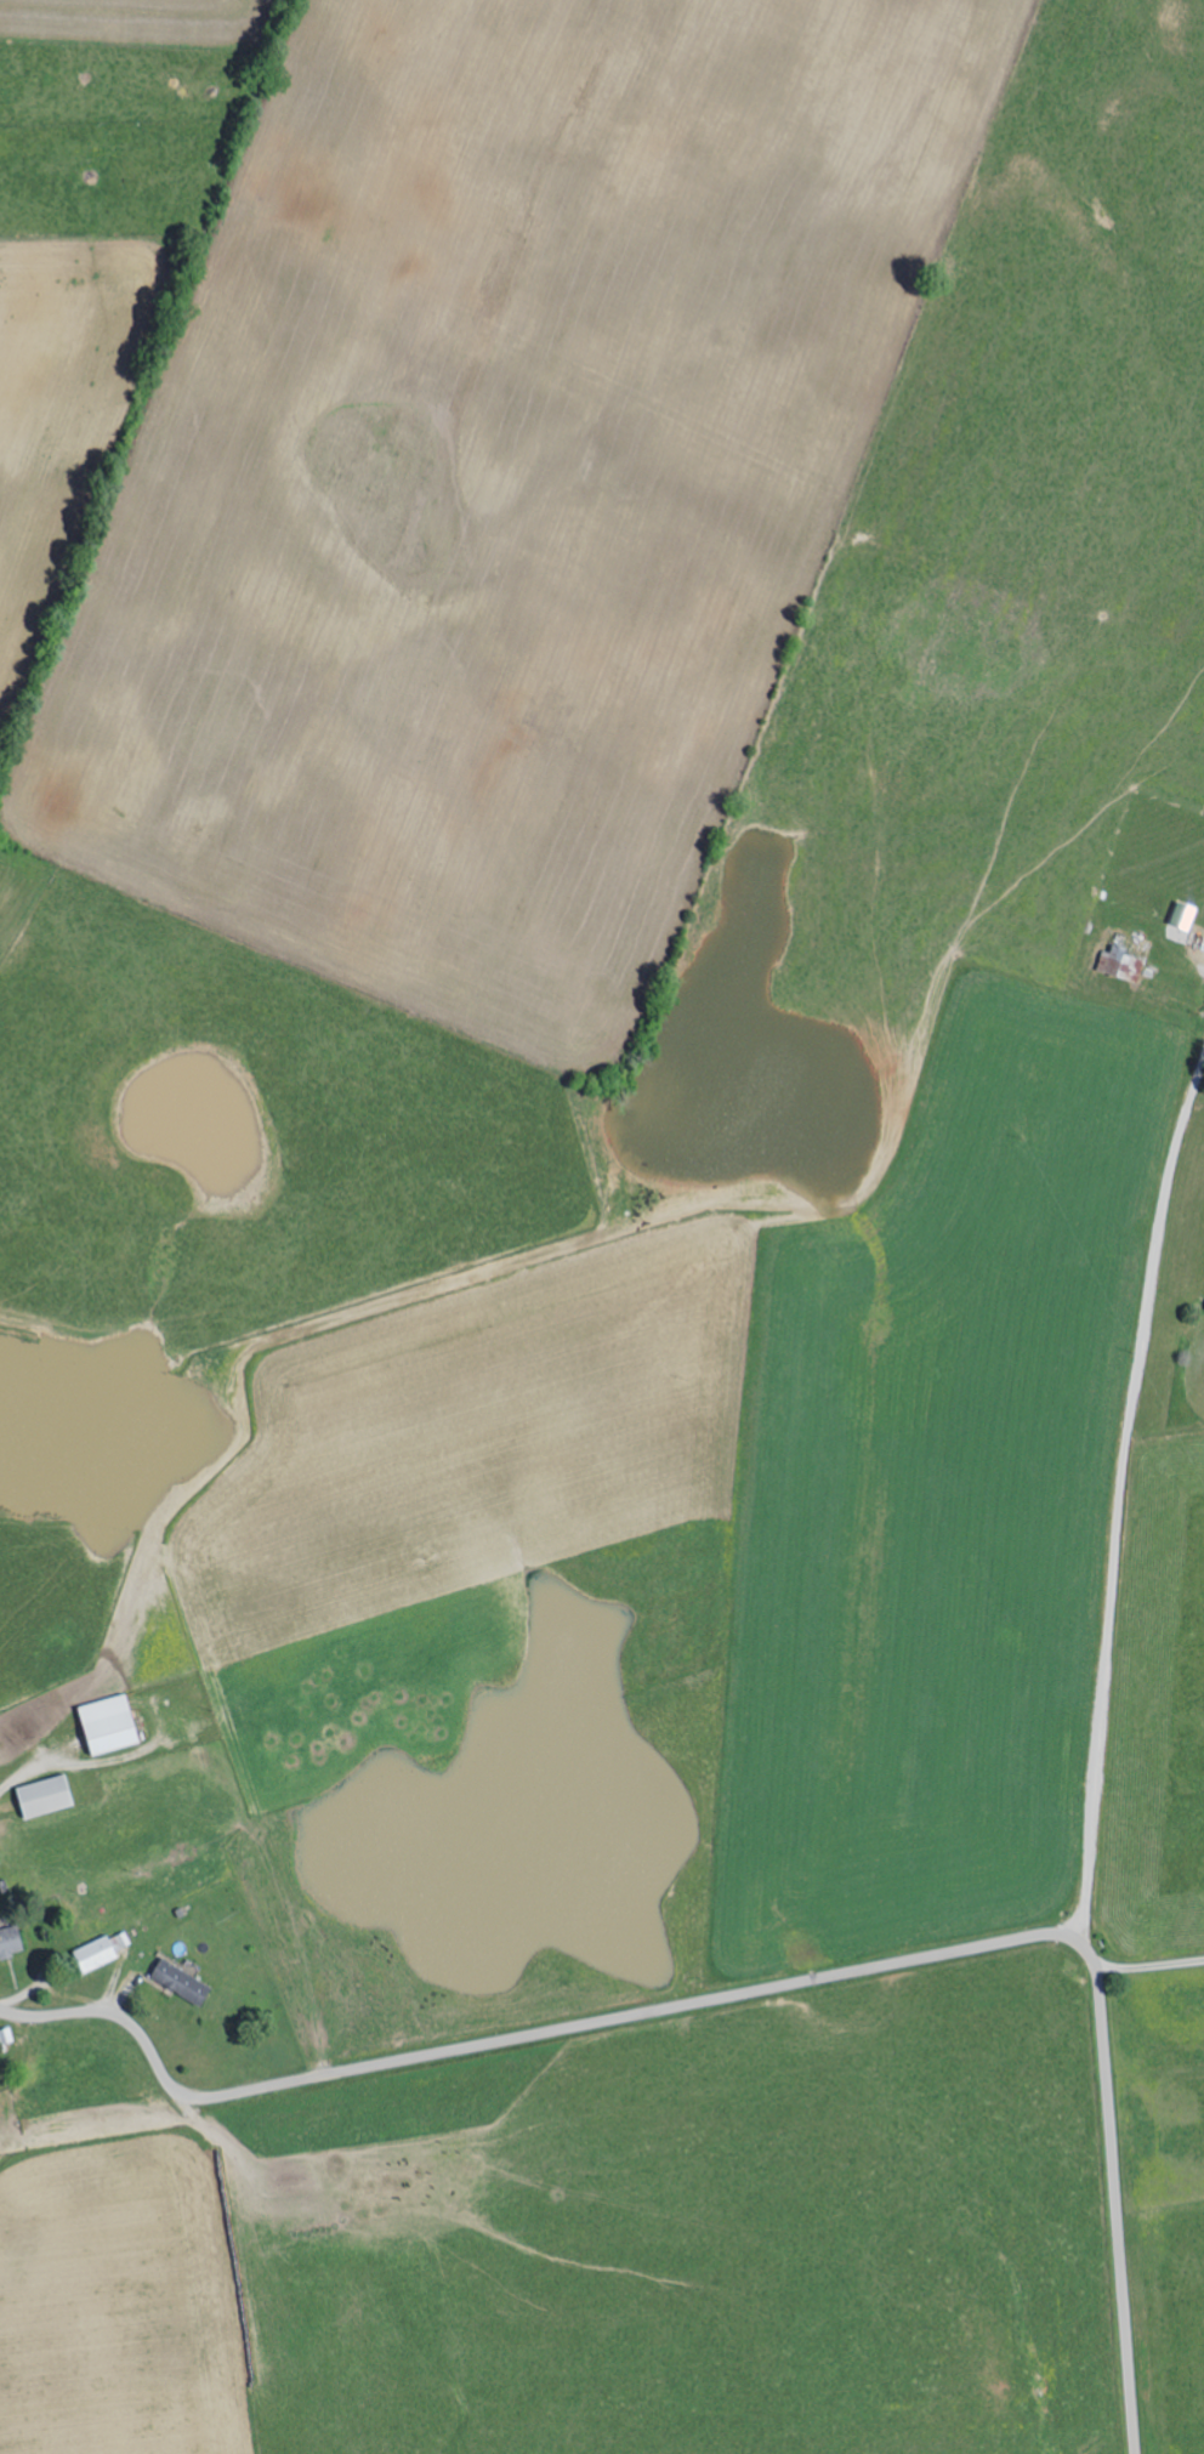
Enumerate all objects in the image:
building: (1187, 914)
road: (1126, 1511)
building: (113, 1723)
building: (49, 1795)
building: (12, 1941)
building: (103, 1950)
building: (183, 1981)
road: (776, 1987)

